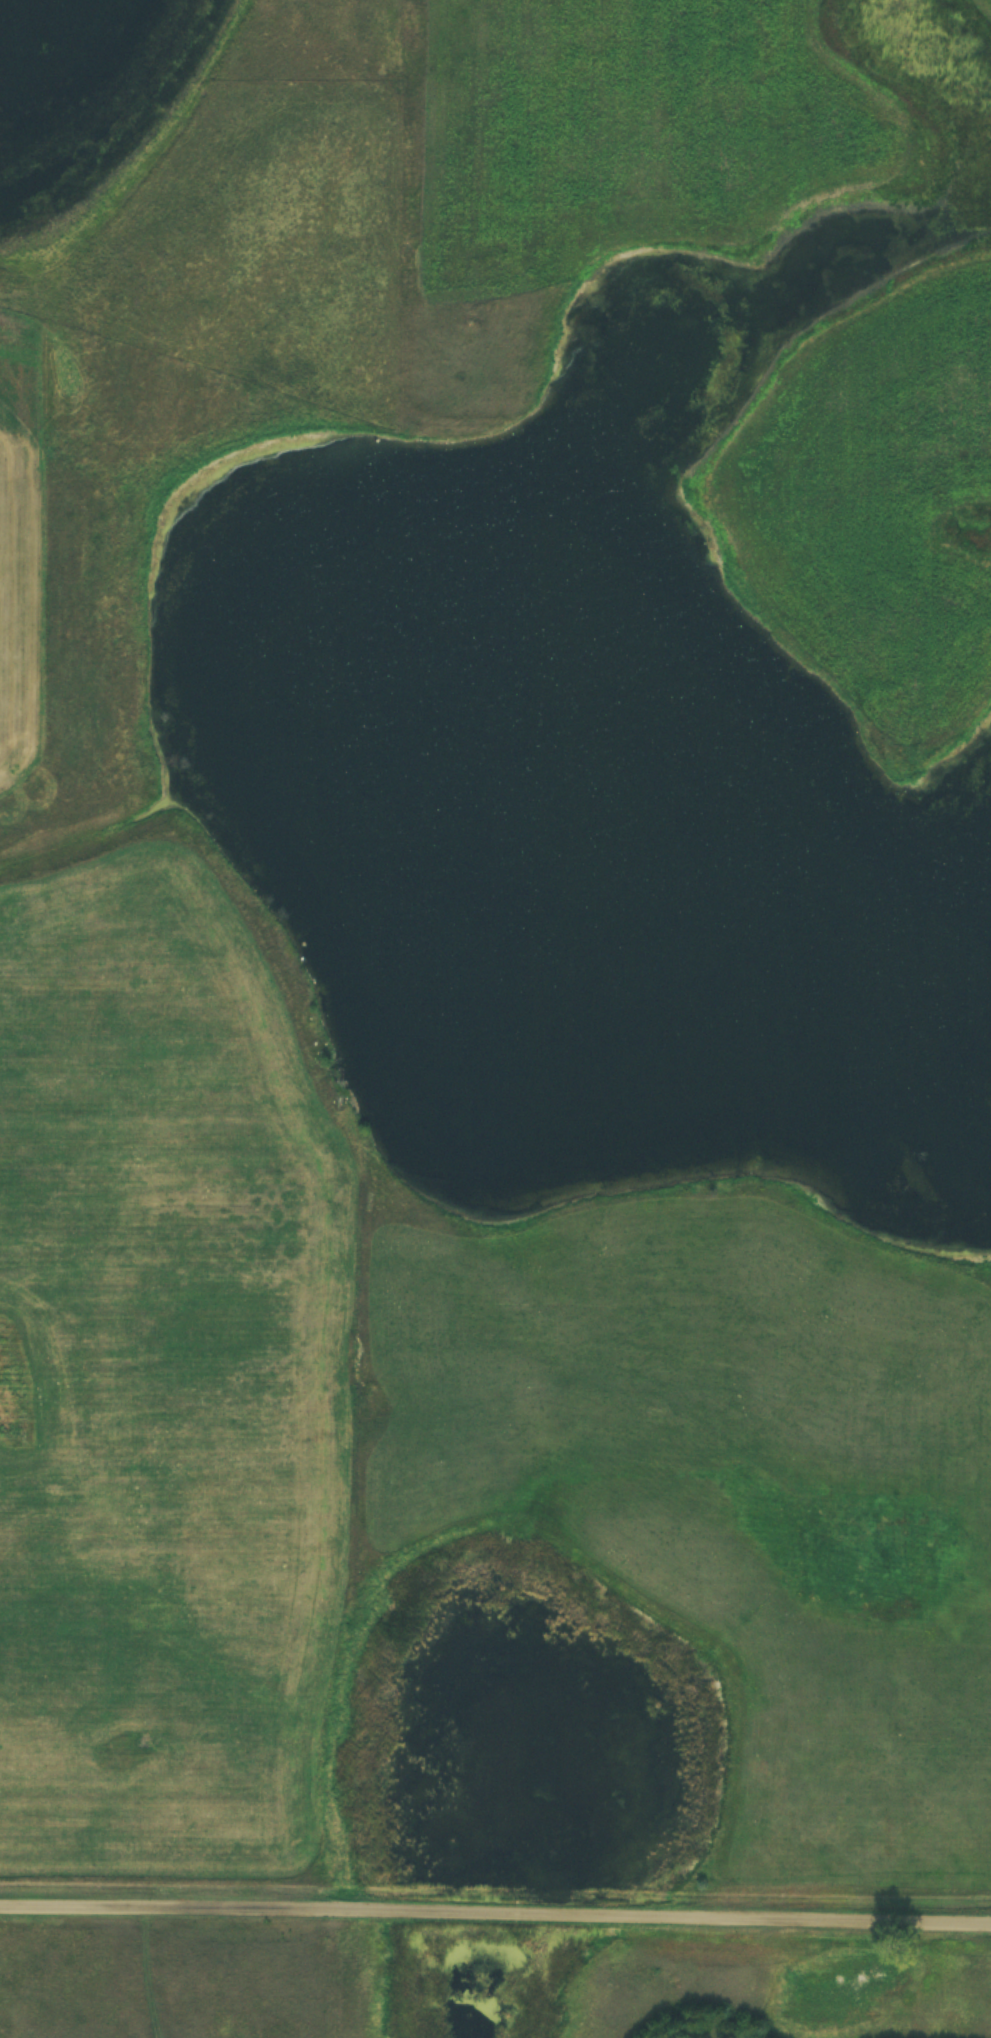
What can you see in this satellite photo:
road: (495, 1910)

